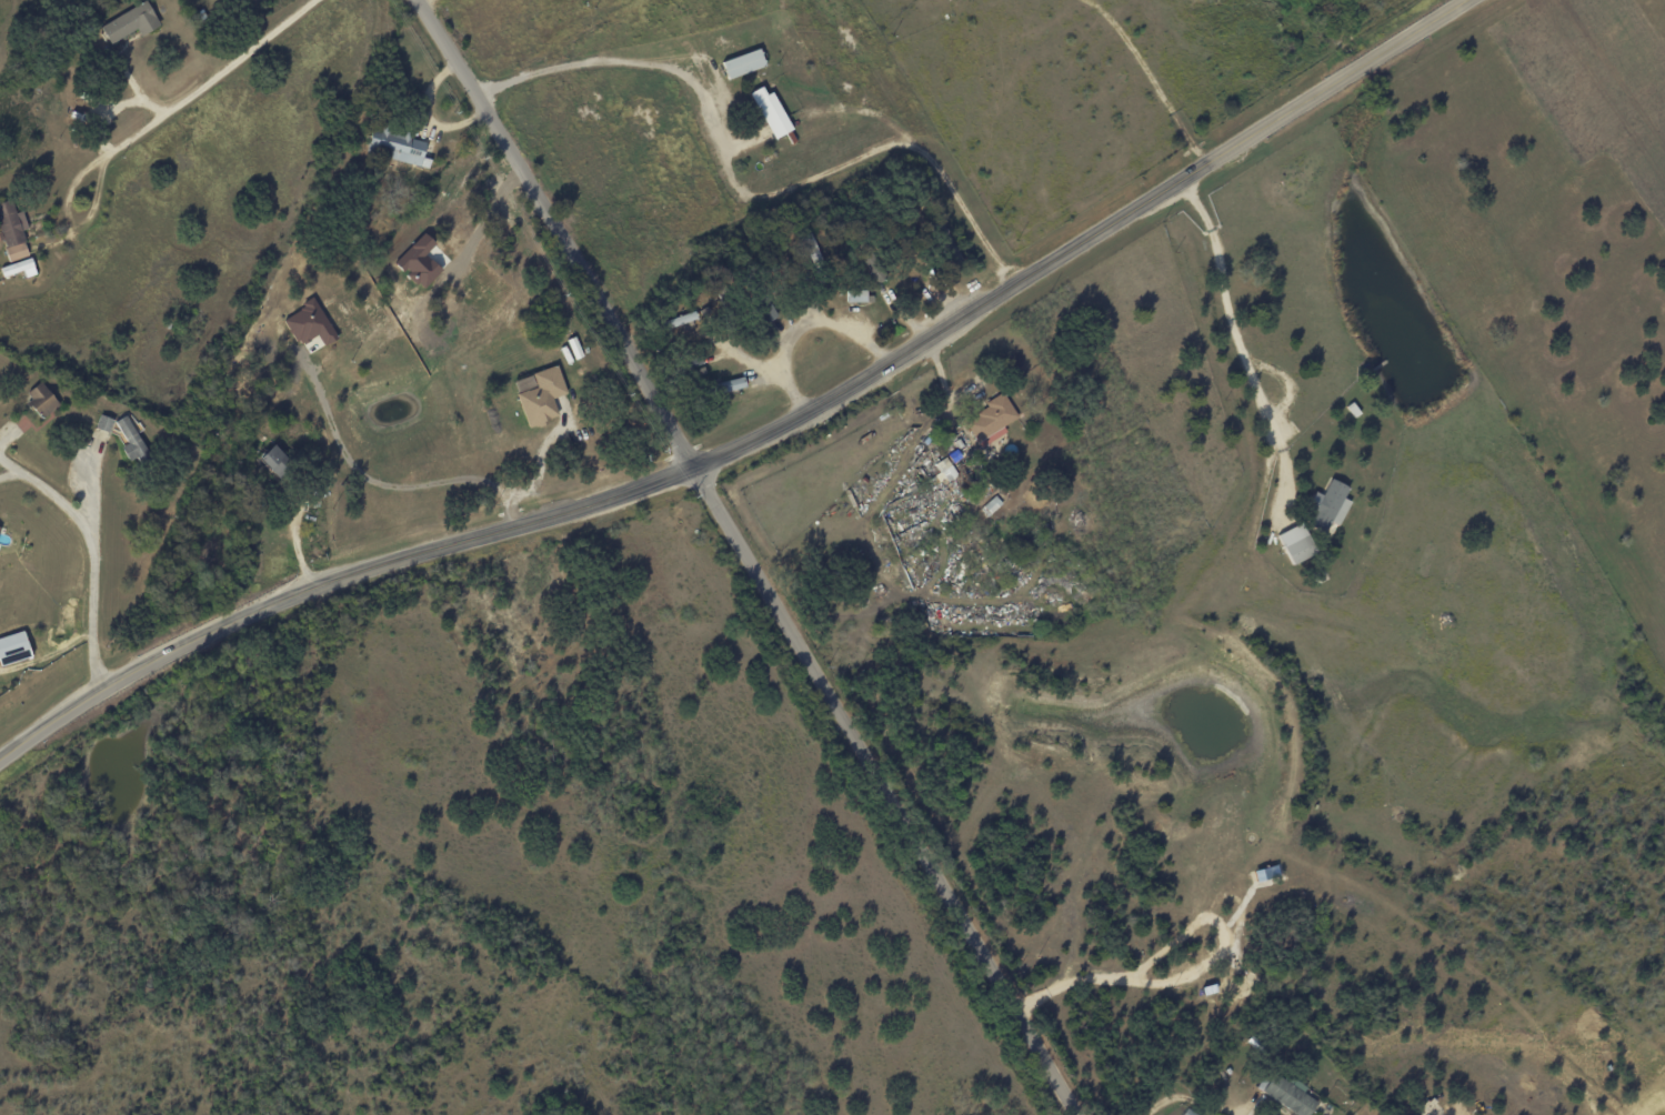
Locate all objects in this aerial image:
building: (231, 1)
building: (130, 22)
building: (743, 63)
road: (205, 81)
building: (771, 111)
building: (397, 145)
road: (741, 198)
building: (12, 231)
road: (555, 231)
building: (419, 261)
building: (19, 268)
building: (855, 295)
road: (808, 319)
building: (309, 323)
road: (1226, 340)
building: (574, 348)
road: (746, 359)
road: (317, 376)
building: (731, 384)
building: (542, 396)
building: (41, 399)
building: (991, 420)
building: (104, 422)
road: (761, 436)
building: (131, 439)
road: (540, 455)
building: (277, 459)
building: (1327, 506)
building: (1296, 543)
road: (86, 556)
building: (13, 647)
road: (881, 791)
building: (1286, 1093)
road: (1183, 1099)

